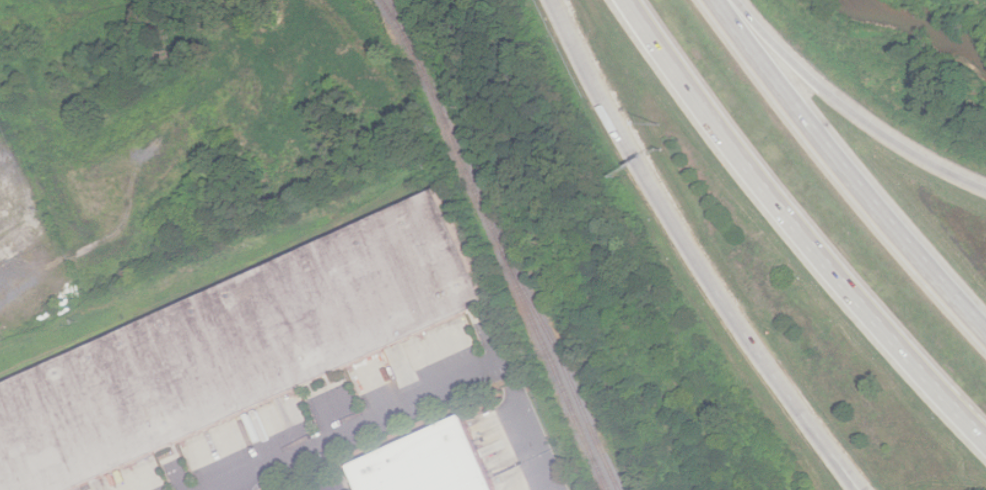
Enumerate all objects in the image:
river: (922, 17)
railway: (406, 33)
road: (848, 110)
road: (845, 170)
road: (796, 228)
road: (679, 233)
railway: (502, 244)
building: (238, 348)
railway: (561, 359)
road: (343, 420)
road: (533, 444)
building: (432, 462)
road: (842, 471)
road: (846, 471)
road: (233, 481)
road: (324, 488)

